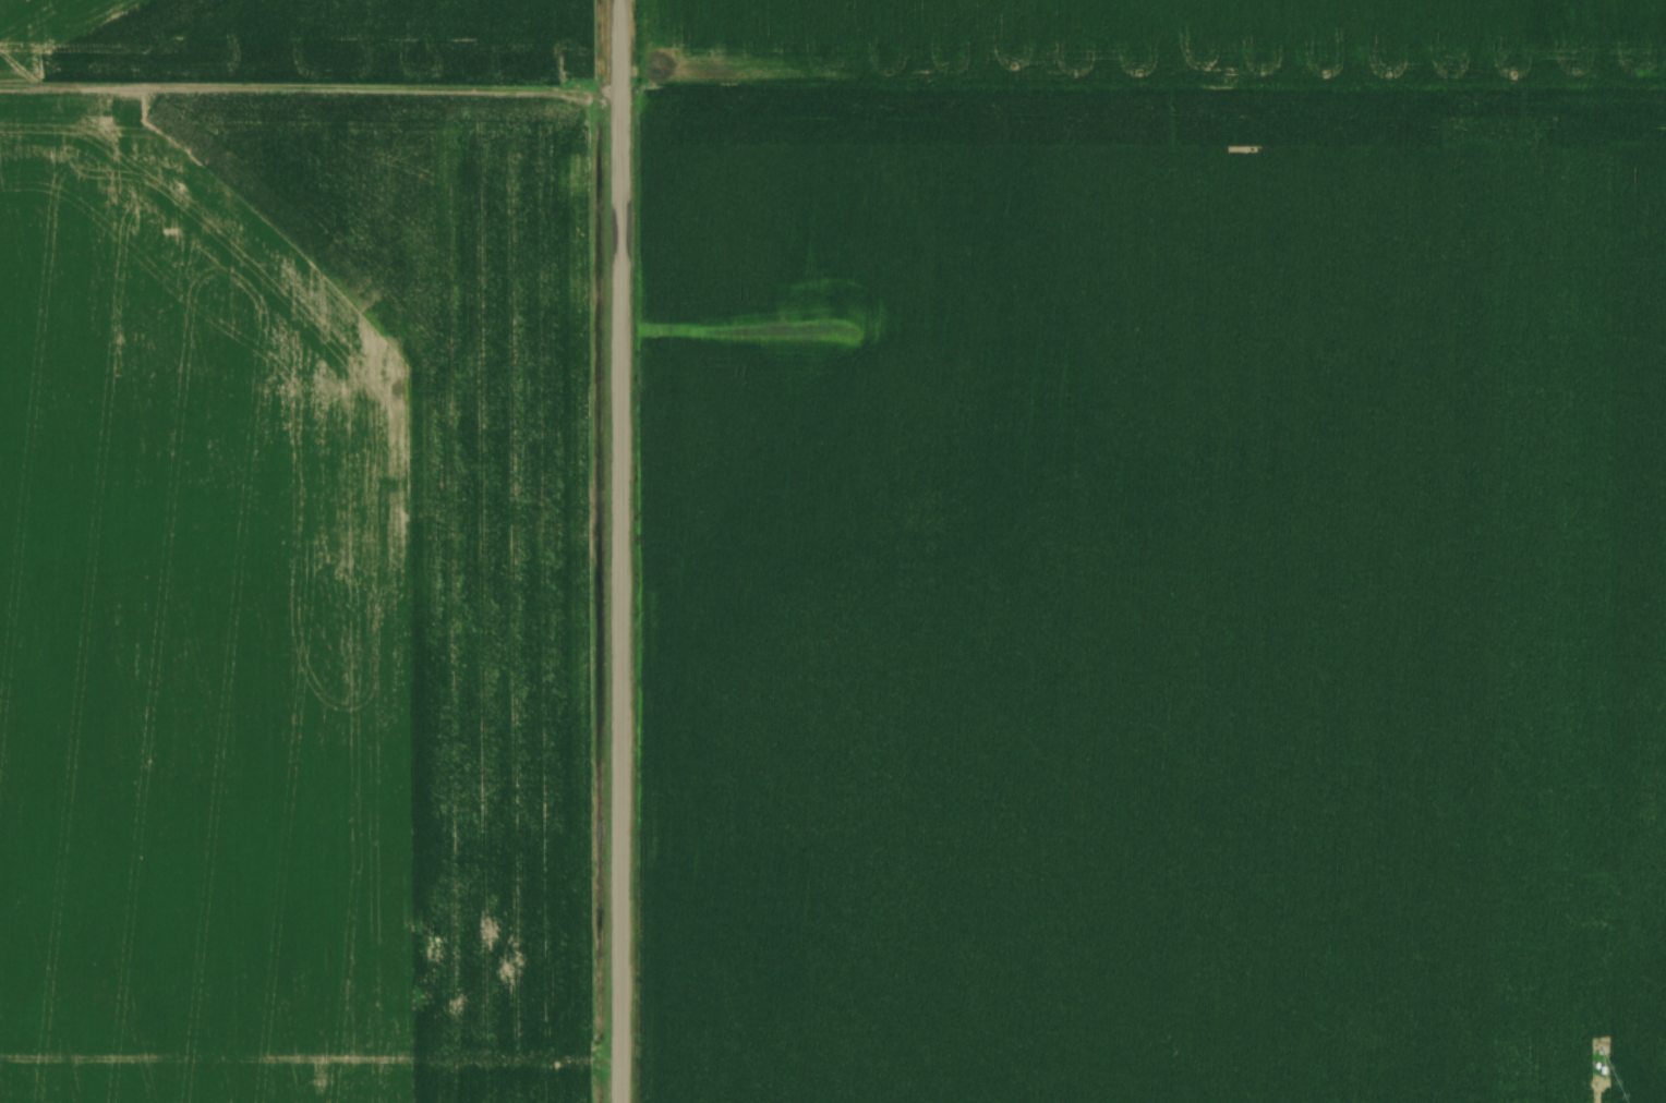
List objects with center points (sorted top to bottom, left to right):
road: (620, 551)

